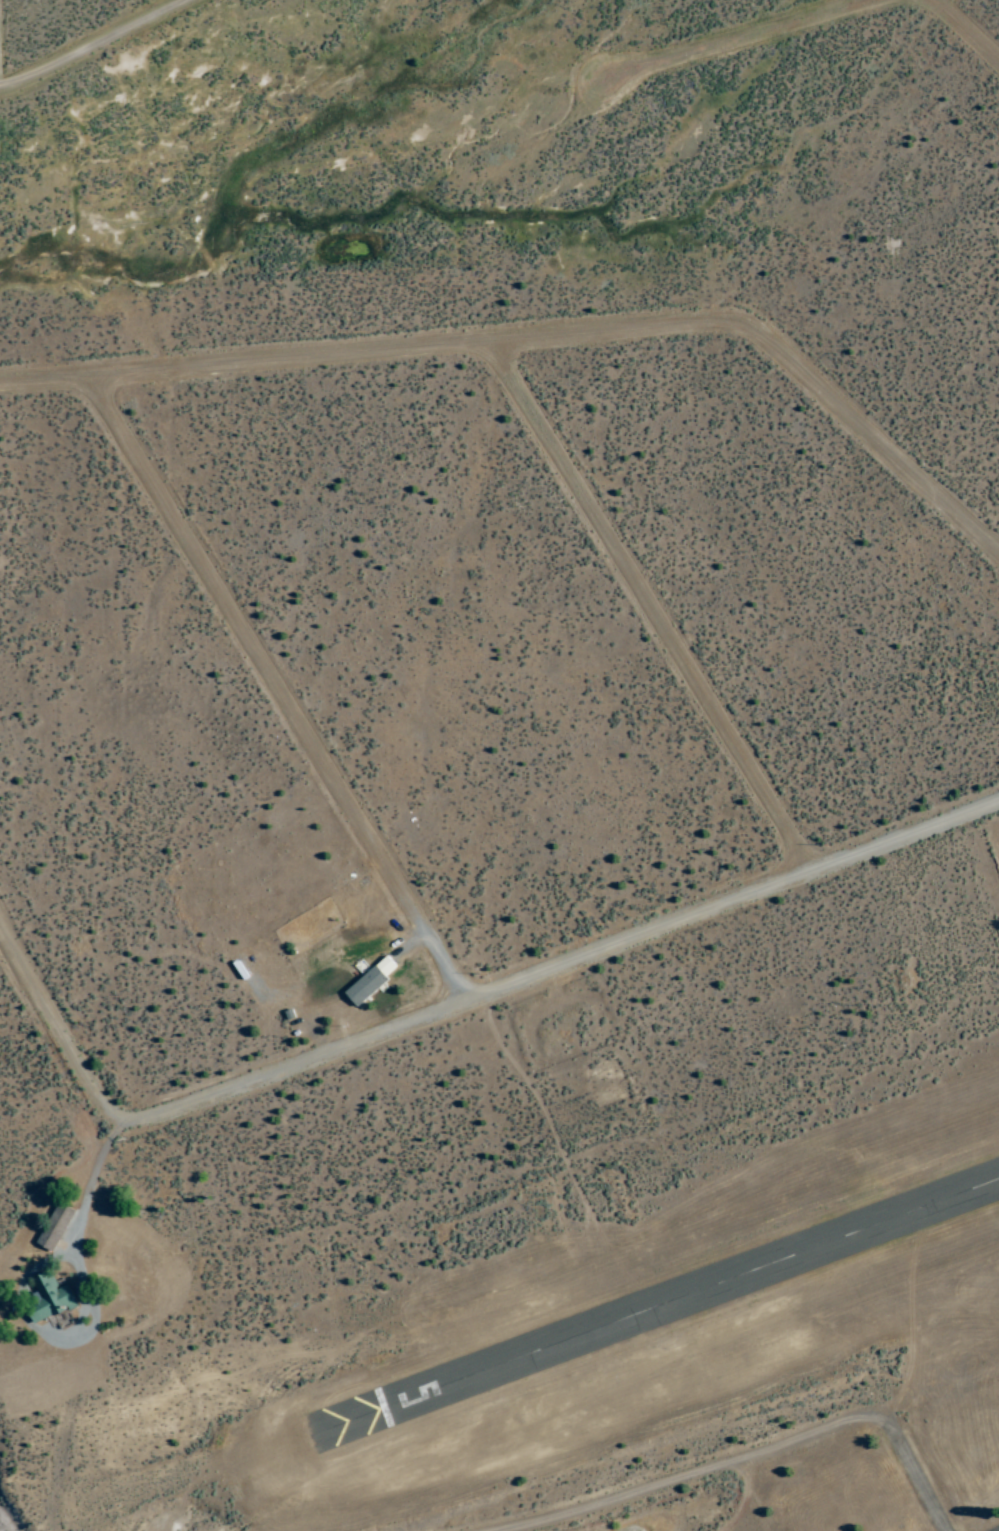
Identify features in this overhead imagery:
road: (964, 28)
road: (753, 38)
road: (99, 47)
road: (541, 343)
road: (657, 608)
road: (276, 688)
building: (372, 981)
road: (456, 1002)
building: (56, 1228)
building: (50, 1299)
airport runway: (654, 1309)
road: (759, 1454)

